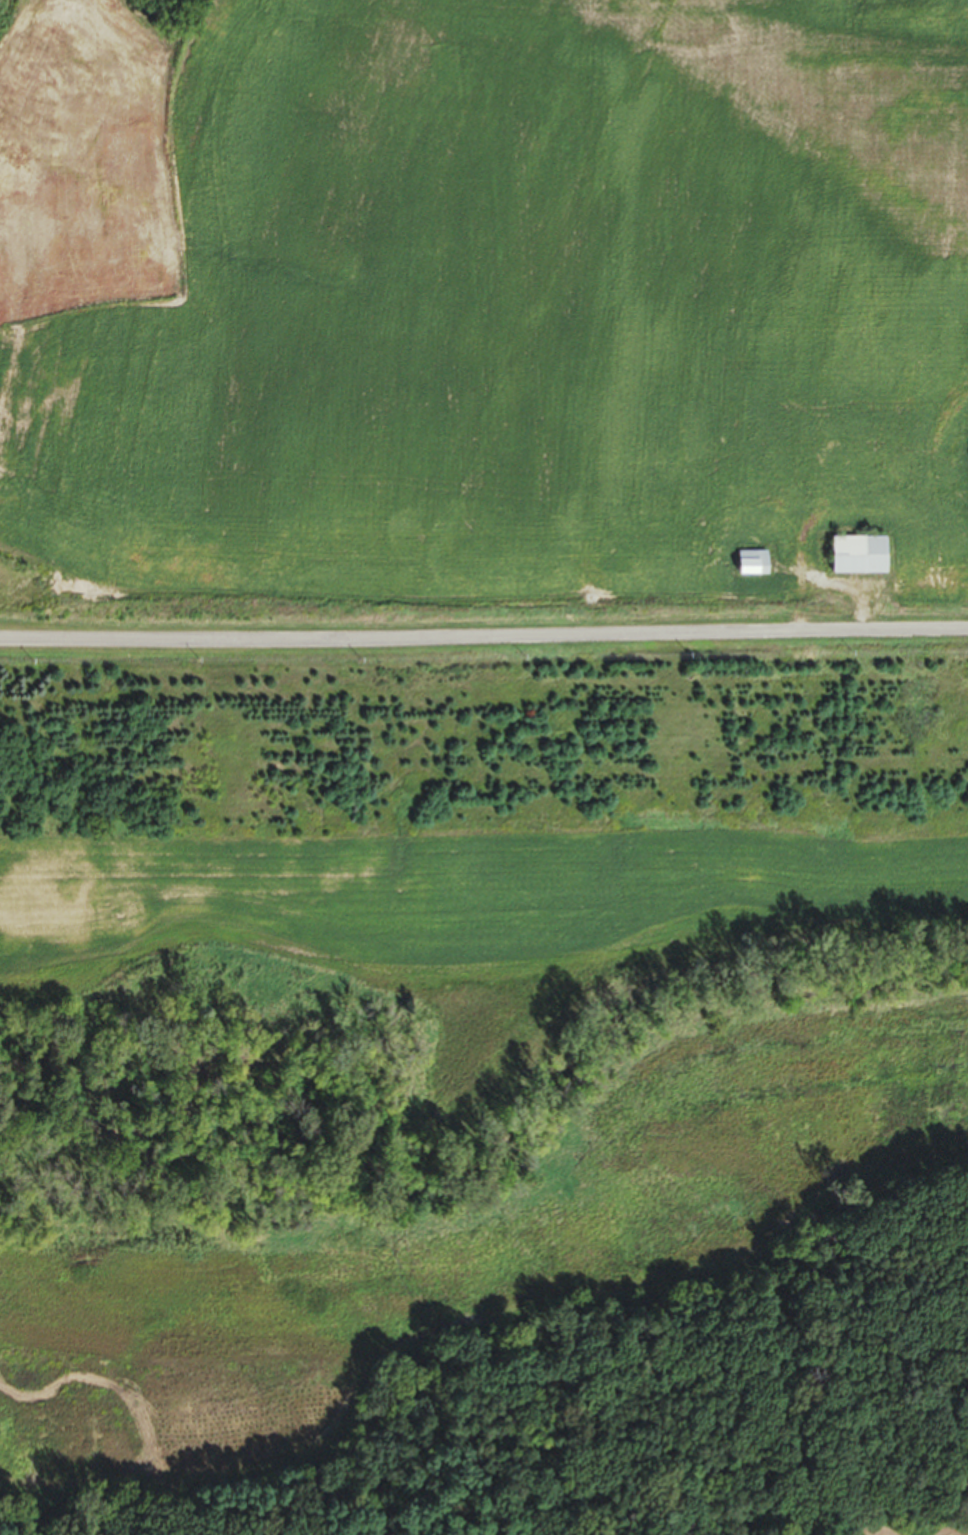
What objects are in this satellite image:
building: (854, 559)
building: (748, 567)
road: (484, 636)

